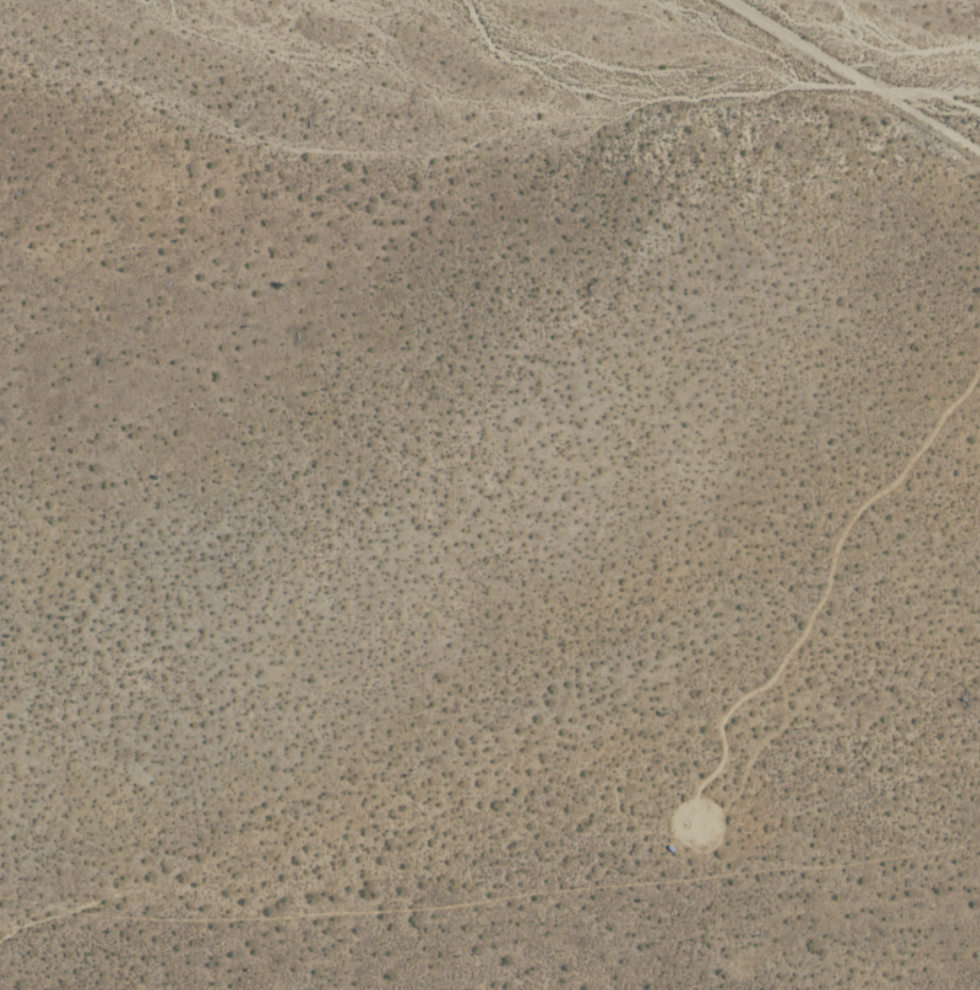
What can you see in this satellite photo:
road: (851, 76)

